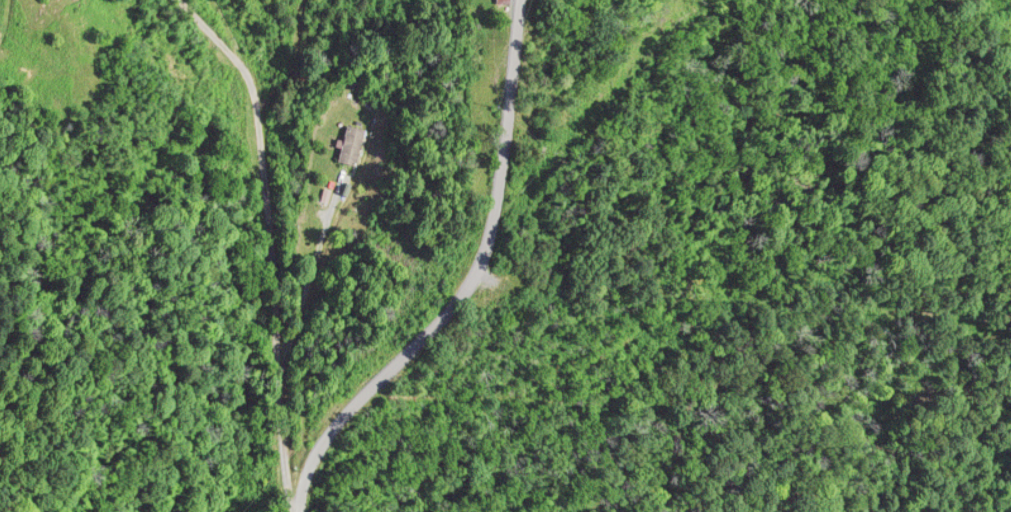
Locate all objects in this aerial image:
road: (197, 46)
building: (349, 148)
road: (264, 227)
road: (480, 249)
road: (304, 476)

